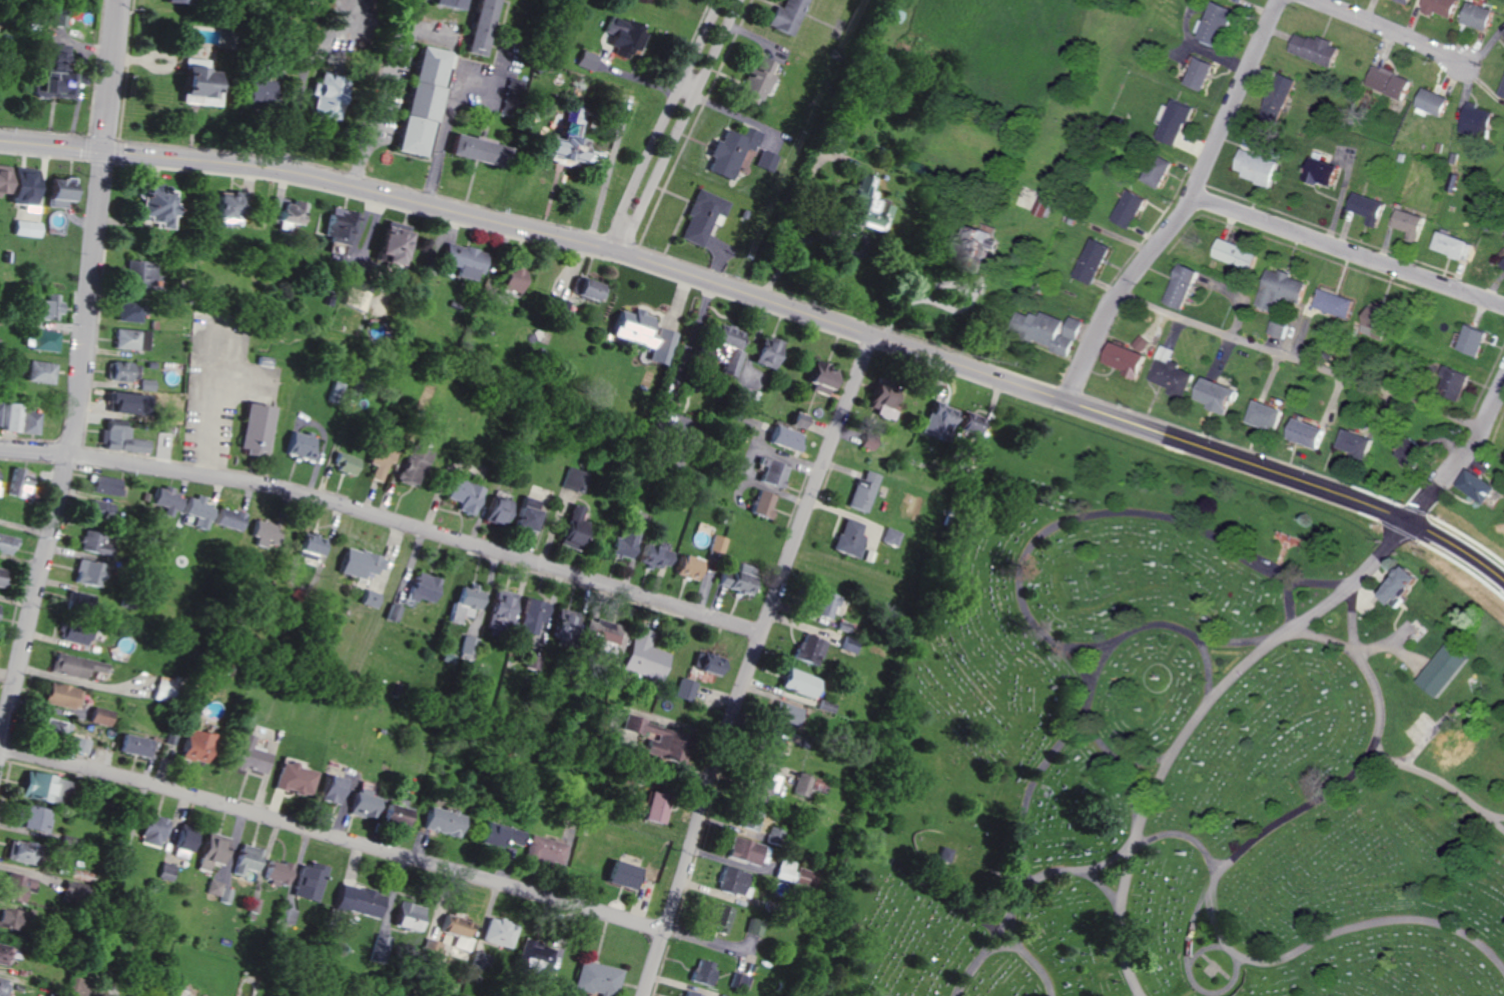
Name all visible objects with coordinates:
building: (178, 0)
building: (1404, 1)
building: (443, 3)
building: (1440, 7)
building: (889, 14)
building: (784, 16)
building: (1478, 16)
building: (56, 18)
building: (1213, 25)
building: (472, 26)
building: (619, 34)
road: (425, 35)
road: (1388, 35)
building: (1314, 49)
building: (582, 59)
building: (48, 73)
building: (1196, 74)
road: (112, 75)
building: (511, 80)
building: (753, 80)
building: (1388, 82)
building: (249, 89)
road: (687, 92)
building: (1502, 92)
building: (318, 94)
road: (379, 94)
building: (1278, 95)
building: (416, 98)
building: (1433, 102)
building: (1476, 121)
building: (1171, 122)
road: (664, 125)
road: (680, 126)
building: (559, 136)
road: (441, 140)
building: (464, 147)
building: (728, 150)
building: (764, 160)
building: (1255, 167)
building: (1154, 170)
building: (1321, 171)
building: (1, 176)
building: (18, 185)
building: (53, 191)
building: (148, 203)
building: (219, 204)
building: (862, 204)
building: (1039, 207)
road: (1185, 207)
building: (1367, 207)
building: (1126, 208)
building: (282, 212)
building: (701, 215)
building: (1408, 222)
building: (334, 224)
building: (24, 228)
building: (385, 243)
building: (1448, 244)
building: (967, 249)
road: (1348, 251)
building: (1232, 254)
building: (459, 259)
building: (1091, 260)
building: (1502, 263)
building: (136, 274)
building: (504, 277)
road: (714, 282)
building: (1178, 285)
building: (582, 287)
building: (1277, 288)
road: (926, 297)
building: (1332, 303)
building: (46, 307)
building: (562, 307)
building: (126, 310)
building: (1370, 320)
building: (1275, 329)
building: (1046, 330)
building: (642, 334)
building: (124, 338)
building: (42, 339)
building: (142, 339)
building: (1470, 340)
building: (1140, 343)
building: (720, 347)
building: (763, 351)
building: (1123, 359)
building: (262, 361)
road: (1300, 362)
building: (38, 371)
building: (121, 371)
building: (818, 377)
building: (1171, 377)
building: (1451, 382)
building: (147, 384)
building: (741, 394)
building: (1212, 394)
building: (118, 402)
building: (881, 402)
building: (1263, 415)
building: (8, 416)
building: (798, 419)
building: (933, 419)
building: (29, 421)
building: (967, 424)
building: (251, 427)
building: (1305, 433)
building: (114, 434)
building: (783, 437)
building: (868, 440)
building: (1354, 443)
building: (296, 444)
building: (137, 445)
building: (1408, 450)
building: (376, 458)
road: (1460, 458)
road: (71, 463)
building: (340, 463)
building: (409, 464)
building: (771, 473)
building: (570, 478)
building: (17, 482)
building: (104, 484)
building: (1474, 486)
building: (864, 491)
building: (460, 495)
building: (163, 499)
building: (761, 503)
building: (99, 509)
building: (491, 509)
building: (197, 512)
building: (520, 514)
building: (226, 518)
road: (385, 520)
building: (569, 525)
building: (258, 531)
flagpole: (1282, 531)
flagpole: (1289, 533)
flagpole: (1296, 535)
building: (893, 536)
building: (850, 537)
building: (621, 541)
building: (91, 542)
building: (6, 543)
building: (717, 544)
building: (303, 545)
building: (650, 555)
road: (1373, 560)
building: (357, 562)
road: (1455, 564)
building: (687, 567)
building: (83, 572)
building: (1, 575)
building: (733, 578)
building: (1403, 586)
building: (421, 587)
road: (19, 596)
building: (78, 598)
building: (369, 598)
building: (461, 601)
building: (821, 603)
road: (1291, 606)
building: (495, 607)
building: (391, 612)
building: (528, 615)
building: (558, 621)
road: (1167, 627)
road: (1043, 628)
building: (73, 633)
road: (1326, 640)
building: (596, 642)
building: (849, 644)
building: (465, 645)
building: (809, 649)
building: (642, 657)
building: (705, 662)
road: (751, 663)
building: (73, 665)
road: (1208, 670)
building: (1444, 670)
flagpole: (1159, 676)
building: (800, 682)
road: (1225, 685)
building: (684, 689)
building: (60, 695)
building: (827, 703)
building: (786, 712)
building: (98, 716)
building: (51, 728)
building: (656, 738)
park: (1178, 743)
building: (77, 744)
building: (135, 745)
building: (193, 745)
building: (769, 746)
building: (247, 755)
road: (1124, 769)
road: (1426, 775)
building: (294, 777)
building: (761, 784)
building: (803, 785)
building: (33, 786)
building: (330, 789)
building: (363, 803)
building: (634, 806)
building: (650, 809)
road: (1481, 810)
building: (394, 814)
building: (27, 818)
building: (747, 818)
building: (441, 821)
building: (151, 830)
building: (497, 834)
road: (1182, 836)
building: (182, 837)
road: (332, 837)
building: (16, 850)
building: (211, 850)
building: (541, 850)
building: (746, 851)
building: (945, 854)
building: (249, 859)
building: (167, 870)
road: (1077, 870)
building: (279, 872)
building: (793, 873)
road: (1126, 873)
building: (616, 874)
building: (79, 875)
road: (1212, 879)
building: (730, 880)
building: (309, 881)
building: (14, 886)
building: (214, 887)
building: (78, 888)
building: (227, 895)
building: (357, 901)
building: (290, 916)
building: (406, 916)
building: (6, 917)
building: (717, 918)
building: (751, 928)
building: (455, 931)
building: (497, 933)
road: (1012, 948)
building: (430, 951)
building: (2, 953)
road: (1205, 953)
road: (1033, 957)
building: (536, 959)
road: (1193, 970)
building: (700, 971)
building: (596, 978)
building: (742, 981)
building: (74, 986)
building: (690, 993)

